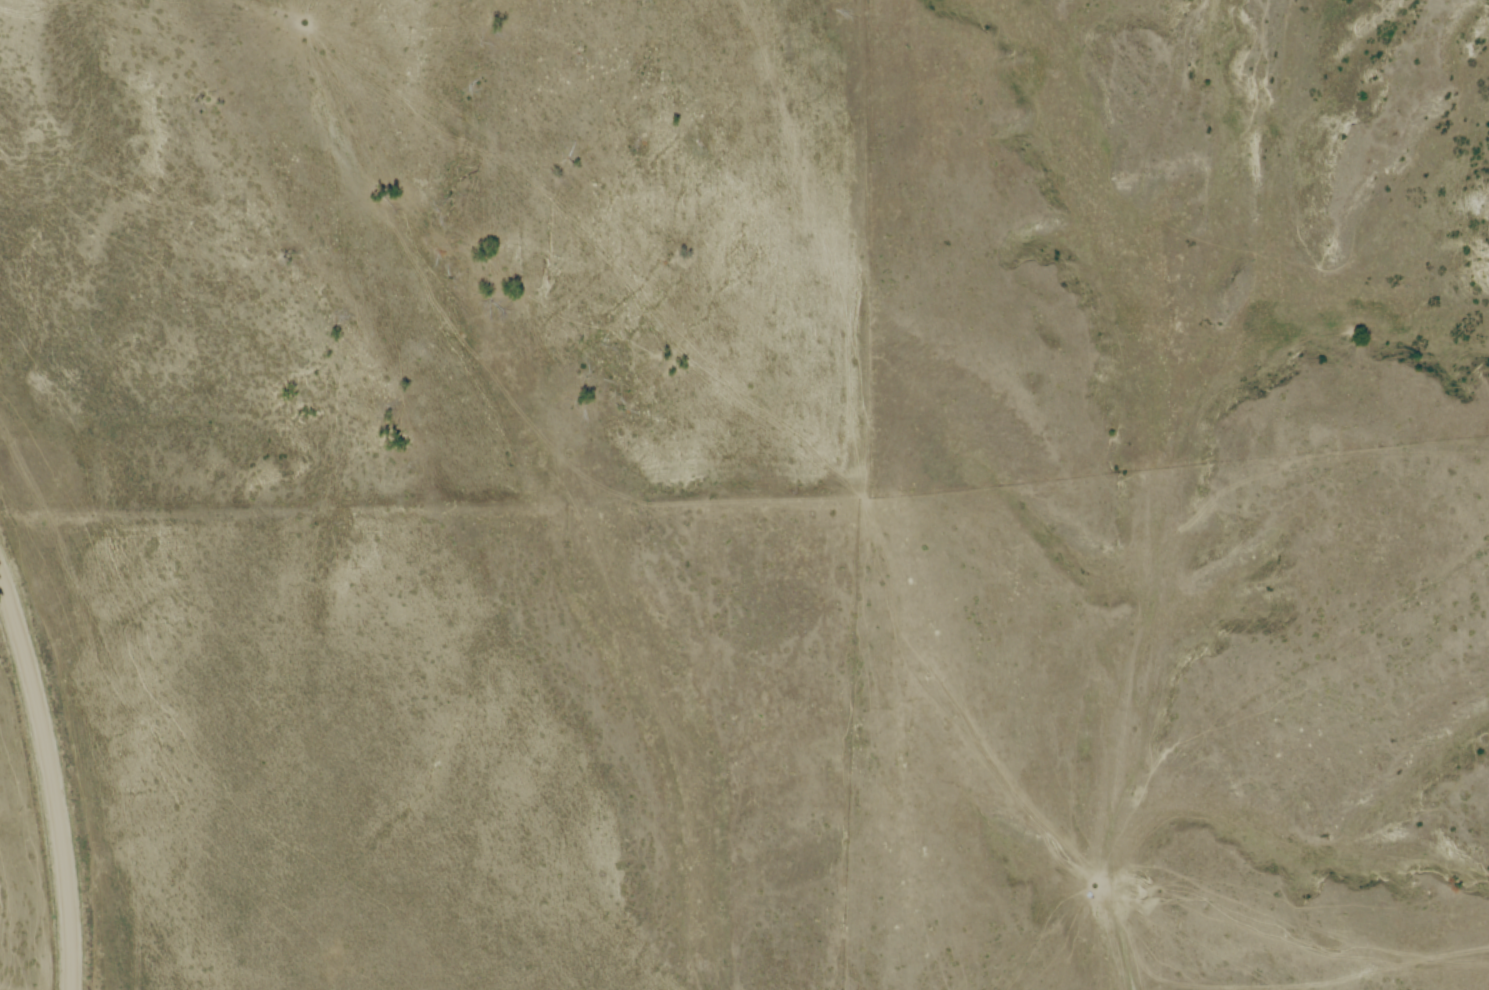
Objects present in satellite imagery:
road: (52, 783)

